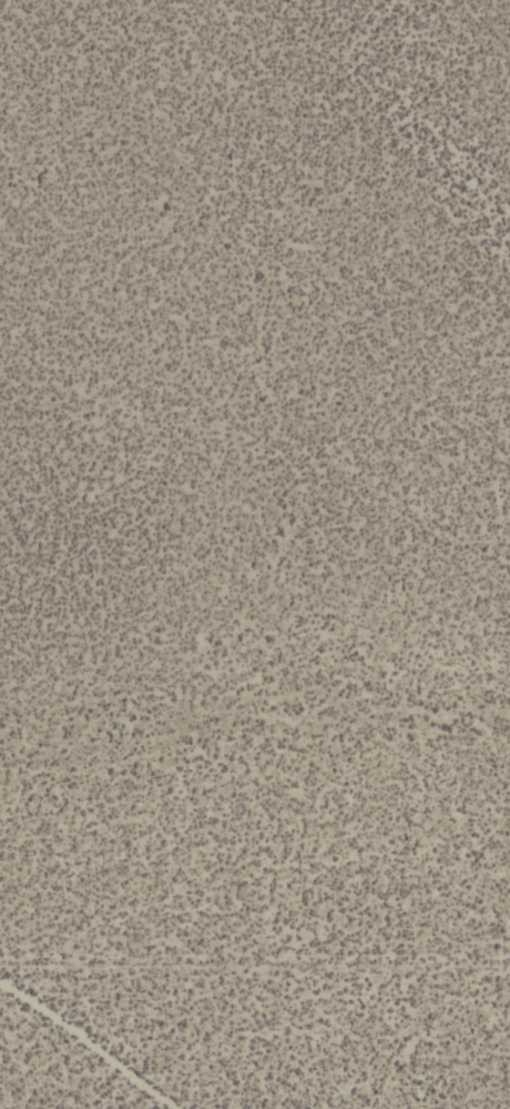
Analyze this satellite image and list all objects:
road: (96, 1038)

